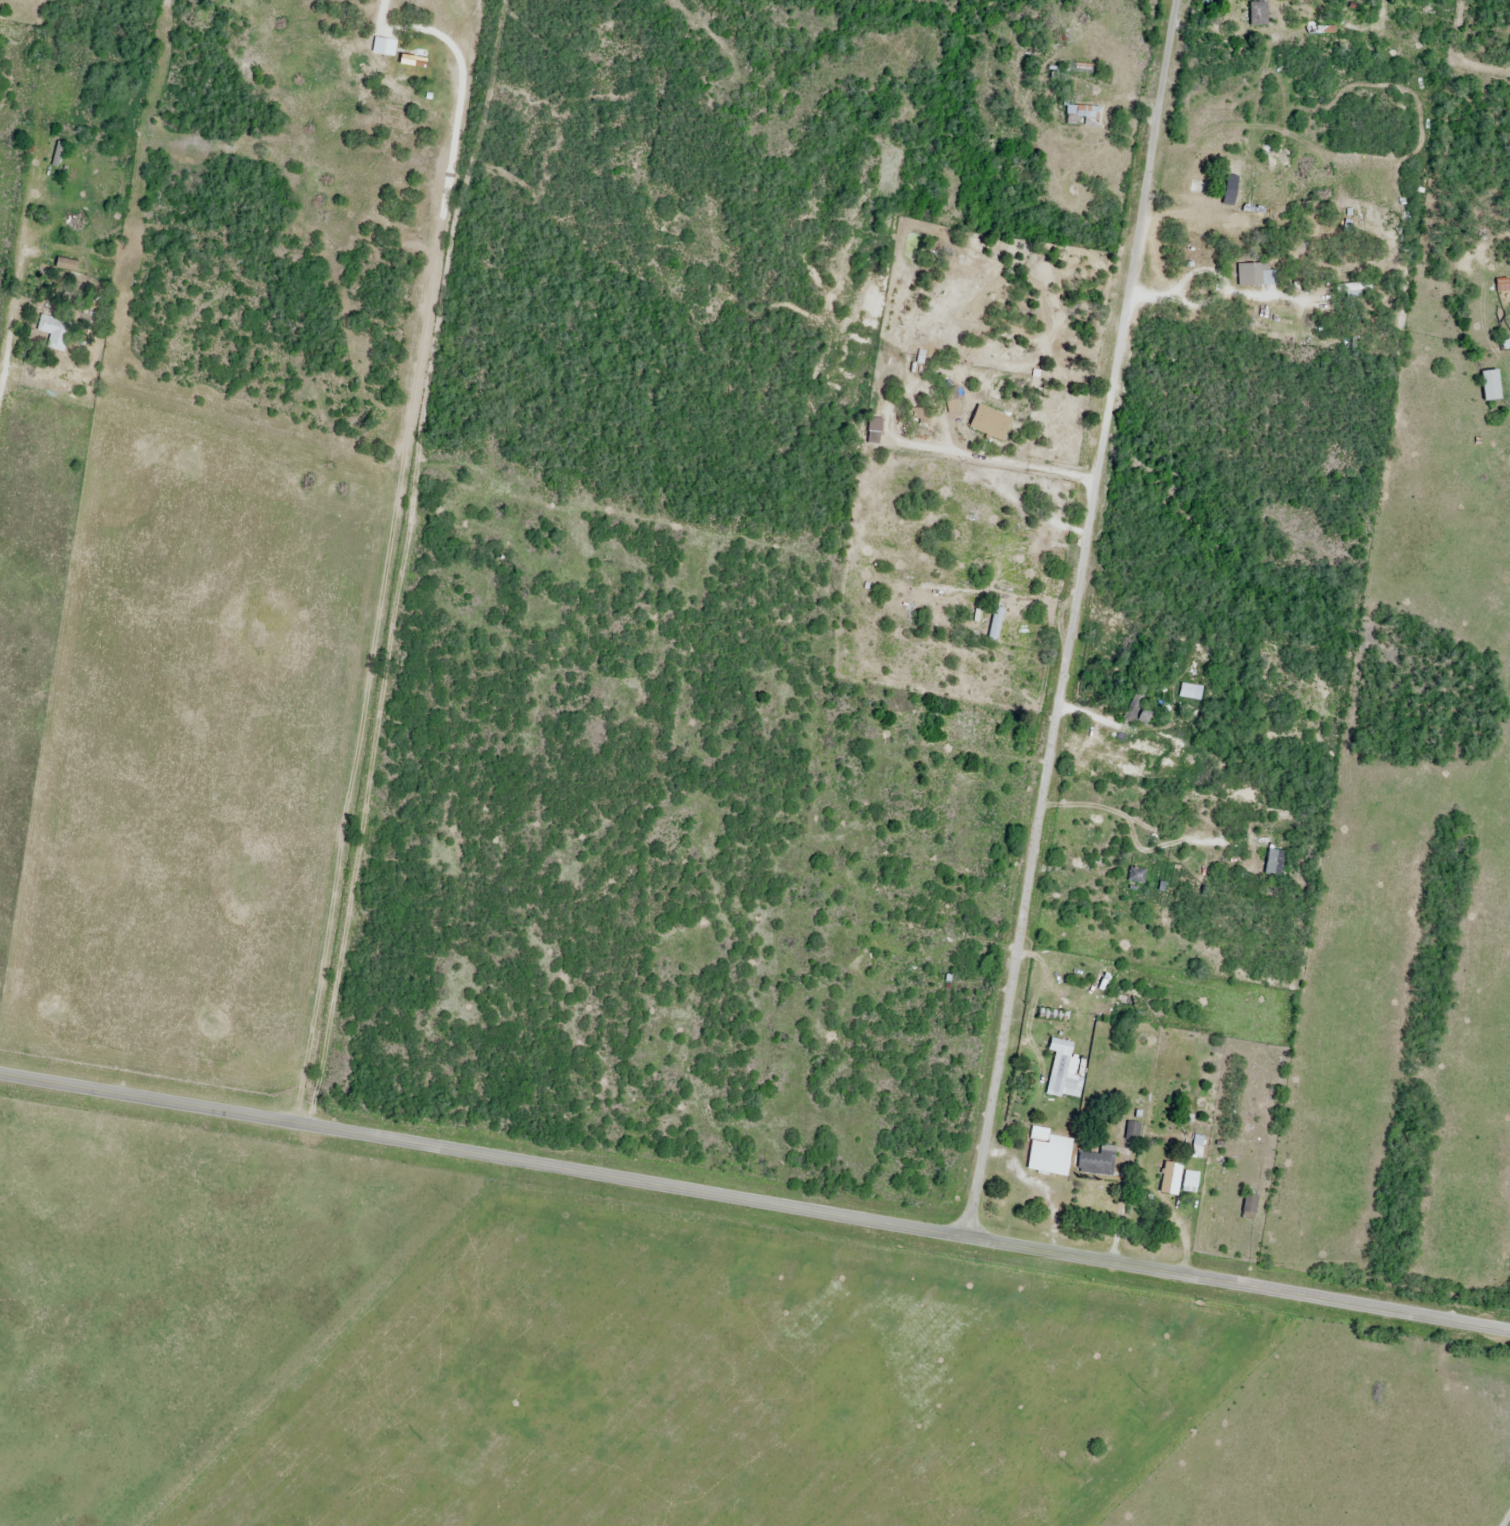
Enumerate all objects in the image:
building: (412, 5)
building: (1258, 14)
building: (392, 68)
building: (1071, 73)
building: (1077, 112)
building: (1229, 181)
building: (67, 265)
building: (1255, 275)
building: (1351, 290)
building: (55, 332)
building: (1491, 386)
building: (918, 417)
road: (1071, 618)
building: (1190, 692)
building: (1136, 710)
building: (1274, 863)
building: (1137, 876)
building: (1053, 1016)
building: (1064, 1087)
building: (1132, 1132)
building: (1050, 1157)
building: (1097, 1163)
building: (1190, 1180)
road: (755, 1201)
building: (1250, 1205)
road: (1505, 1518)

